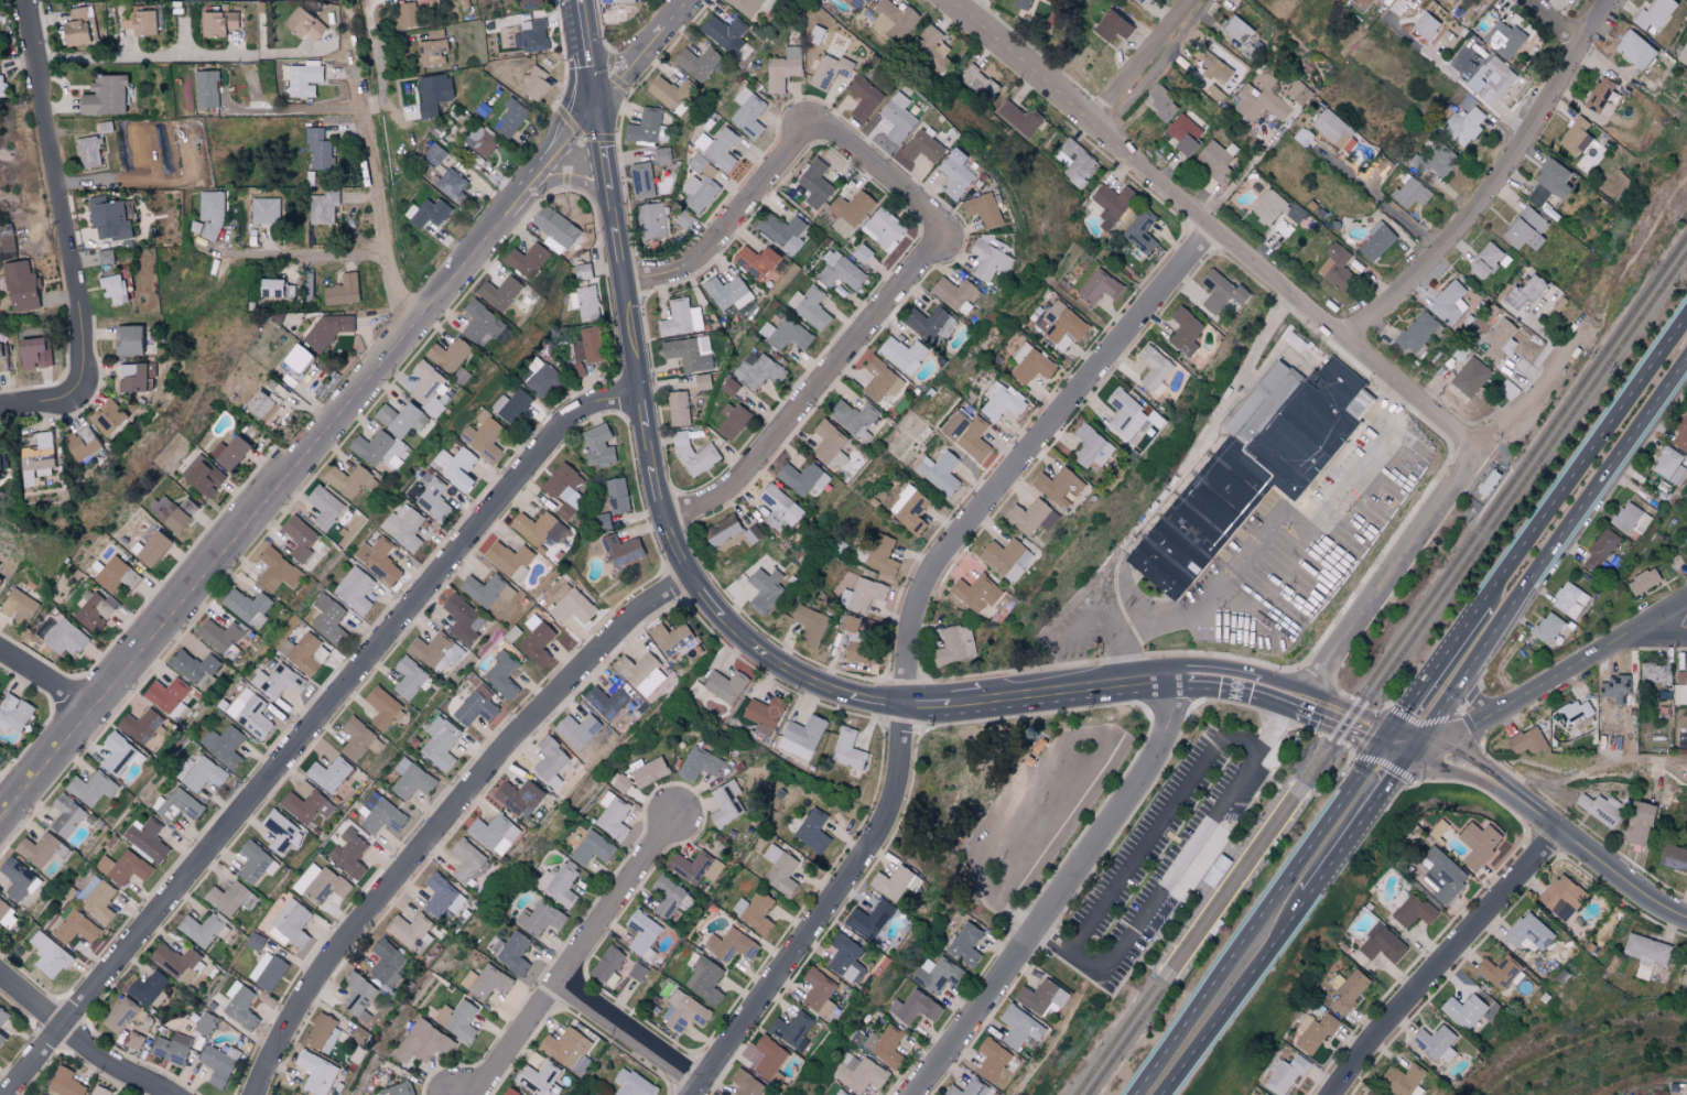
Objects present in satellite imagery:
building: (623, 1)
building: (1448, 1)
building: (527, 3)
building: (853, 3)
building: (1020, 3)
building: (1360, 3)
building: (748, 6)
building: (407, 13)
road: (982, 13)
building: (1654, 13)
building: (894, 20)
building: (139, 22)
building: (218, 23)
road: (1559, 23)
building: (302, 24)
building: (76, 25)
building: (1425, 25)
building: (1112, 26)
building: (1235, 29)
building: (724, 32)
building: (530, 35)
building: (1503, 40)
building: (1634, 50)
building: (932, 51)
building: (432, 52)
road: (590, 54)
road: (645, 54)
building: (1683, 55)
road: (148, 58)
building: (696, 63)
road: (1145, 63)
building: (1213, 66)
building: (782, 68)
building: (829, 71)
building: (303, 79)
building: (1492, 80)
building: (1, 82)
building: (978, 82)
building: (533, 84)
building: (206, 89)
building: (1297, 91)
building: (664, 93)
building: (432, 94)
building: (104, 95)
building: (1599, 95)
building: (863, 98)
building: (1161, 102)
building: (1258, 102)
road: (296, 110)
building: (748, 112)
building: (896, 117)
building: (510, 118)
building: (1019, 118)
building: (1463, 123)
building: (645, 126)
building: (1334, 131)
building: (1183, 133)
building: (1575, 137)
building: (480, 140)
building: (717, 147)
building: (921, 147)
building: (317, 149)
road: (605, 149)
building: (88, 152)
building: (434, 153)
building: (662, 155)
building: (1215, 159)
road: (868, 160)
building: (1435, 160)
building: (1074, 162)
building: (703, 166)
building: (956, 173)
building: (641, 180)
road: (1236, 180)
building: (1548, 183)
building: (451, 184)
building: (815, 184)
road: (1500, 184)
building: (699, 193)
building: (1410, 193)
road: (380, 198)
road: (63, 199)
road: (1381, 203)
building: (1111, 204)
building: (323, 207)
building: (1275, 207)
road: (616, 208)
building: (984, 209)
building: (266, 210)
building: (848, 212)
building: (429, 213)
building: (209, 216)
building: (108, 218)
building: (684, 219)
building: (652, 220)
road: (731, 220)
building: (554, 226)
road: (1211, 226)
building: (882, 227)
building: (1283, 228)
building: (1525, 229)
building: (782, 231)
building: (1140, 231)
building: (1375, 241)
building: (8, 242)
road: (1636, 252)
road: (311, 253)
building: (862, 253)
road: (624, 256)
building: (990, 257)
building: (527, 260)
building: (1485, 260)
building: (755, 261)
building: (1335, 267)
building: (582, 271)
building: (840, 271)
building: (21, 286)
building: (1099, 286)
building: (275, 288)
building: (112, 289)
building: (342, 291)
building: (1219, 291)
building: (499, 292)
building: (1523, 292)
building: (727, 293)
building: (585, 303)
building: (1449, 303)
building: (810, 306)
building: (681, 318)
building: (480, 322)
building: (929, 323)
building: (1061, 325)
building: (327, 329)
building: (1185, 332)
building: (1416, 332)
building: (786, 334)
road: (636, 338)
building: (127, 340)
building: (1499, 340)
building: (587, 346)
building: (689, 353)
building: (32, 355)
building: (447, 355)
building: (901, 355)
building: (3, 358)
building: (296, 359)
building: (1030, 364)
building: (1154, 369)
building: (577, 370)
building: (758, 371)
road: (824, 375)
building: (137, 377)
building: (541, 377)
building: (1470, 377)
building: (703, 381)
building: (880, 381)
building: (426, 388)
road: (1531, 390)
building: (1261, 398)
building: (999, 402)
road: (36, 404)
building: (261, 404)
building: (512, 405)
building: (678, 409)
road: (646, 410)
building: (383, 414)
building: (107, 416)
building: (1131, 416)
building: (853, 418)
building: (405, 420)
building: (731, 420)
building: (965, 434)
building: (484, 435)
building: (1680, 436)
building: (83, 443)
building: (597, 445)
building: (829, 445)
road: (652, 446)
building: (1091, 447)
building: (378, 448)
building: (227, 452)
building: (693, 454)
road: (1192, 457)
building: (39, 458)
road: (1585, 459)
building: (0, 463)
road: (296, 463)
building: (1668, 465)
building: (456, 466)
building: (939, 471)
building: (201, 476)
building: (802, 478)
building: (1248, 478)
building: (348, 480)
building: (1059, 486)
building: (564, 489)
building: (415, 491)
road: (661, 494)
building: (616, 495)
building: (434, 500)
building: (324, 507)
building: (779, 507)
building: (909, 509)
road: (1283, 510)
building: (170, 512)
building: (1027, 516)
building: (1625, 518)
building: (1050, 520)
building: (601, 522)
building: (403, 527)
building: (538, 529)
building: (721, 531)
building: (299, 538)
building: (1686, 540)
road: (1553, 545)
building: (151, 549)
building: (620, 550)
road: (675, 550)
building: (1599, 550)
building: (882, 555)
building: (507, 557)
building: (1008, 559)
building: (378, 560)
building: (275, 571)
road: (1392, 572)
building: (115, 575)
building: (0, 579)
building: (1642, 582)
building: (483, 589)
building: (765, 589)
building: (355, 590)
building: (862, 594)
building: (973, 594)
road: (709, 595)
building: (1569, 600)
building: (570, 605)
building: (19, 607)
building: (247, 607)
building: (91, 610)
building: (328, 619)
building: (463, 619)
building: (810, 625)
building: (1547, 628)
road: (1659, 630)
building: (218, 635)
road: (1085, 635)
building: (62, 637)
road: (908, 639)
building: (670, 640)
building: (536, 641)
building: (955, 644)
building: (304, 653)
building: (436, 653)
road: (1122, 653)
road: (1436, 662)
road: (781, 663)
railway: (1381, 664)
building: (192, 665)
road: (1199, 668)
building: (639, 673)
railway: (1386, 673)
building: (1655, 673)
building: (502, 674)
road: (1555, 674)
building: (408, 677)
road: (1146, 679)
road: (44, 681)
building: (278, 681)
road: (1178, 682)
building: (724, 685)
building: (1680, 686)
building: (1615, 690)
road: (1055, 691)
road: (1311, 694)
road: (1247, 695)
building: (167, 696)
road: (878, 700)
building: (606, 702)
road: (965, 704)
building: (381, 706)
road: (926, 706)
building: (475, 707)
building: (1575, 713)
building: (14, 714)
building: (251, 714)
building: (764, 714)
building: (140, 725)
road: (312, 725)
road: (1339, 725)
road: (1403, 725)
building: (576, 730)
road: (1381, 731)
building: (802, 737)
road: (1063, 737)
building: (356, 738)
building: (1526, 741)
building: (440, 744)
building: (225, 746)
building: (847, 749)
road: (1388, 749)
building: (117, 754)
road: (1470, 754)
building: (550, 761)
building: (699, 763)
building: (647, 771)
building: (201, 773)
building: (328, 773)
road: (1459, 773)
building: (411, 780)
building: (619, 782)
building: (90, 788)
road: (8, 793)
building: (519, 798)
building: (305, 803)
building: (725, 803)
building: (179, 805)
building: (1601, 809)
parking lot: (1043, 811)
road: (1365, 811)
road: (450, 814)
building: (613, 816)
building: (1639, 823)
building: (812, 831)
building: (281, 832)
building: (495, 833)
building: (148, 839)
building: (1478, 844)
building: (592, 848)
building: (36, 849)
parking lot: (1172, 849)
building: (349, 853)
road: (1597, 857)
building: (1673, 857)
building: (465, 861)
building: (255, 863)
building: (694, 867)
building: (123, 868)
building: (779, 870)
railway: (1225, 872)
building: (1441, 876)
building: (15, 878)
building: (559, 882)
building: (894, 883)
building: (324, 885)
railway: (1244, 888)
road: (1056, 893)
building: (439, 895)
building: (667, 897)
building: (1561, 897)
building: (97, 899)
building: (229, 899)
building: (754, 912)
building: (1413, 912)
building: (7, 915)
building: (539, 919)
road: (1250, 919)
building: (868, 920)
building: (292, 923)
building: (75, 928)
building: (408, 929)
building: (202, 930)
building: (1528, 932)
building: (642, 934)
road: (1052, 936)
building: (423, 943)
building: (965, 944)
building: (729, 945)
building: (1383, 945)
building: (510, 952)
building: (1645, 954)
building: (50, 955)
building: (846, 958)
road: (575, 960)
road: (1441, 960)
building: (177, 963)
building: (388, 963)
building: (606, 964)
road: (1095, 965)
building: (1497, 973)
building: (271, 974)
building: (937, 975)
building: (1685, 977)
building: (704, 980)
building: (485, 982)
building: (149, 989)
building: (1348, 989)
building: (818, 993)
road: (1236, 993)
building: (357, 996)
building: (1040, 997)
building: (238, 1008)
building: (913, 1008)
building: (1463, 1010)
building: (683, 1012)
building: (120, 1016)
building: (2, 1017)
building: (457, 1020)
building: (204, 1023)
building: (791, 1028)
building: (1017, 1028)
road: (634, 1029)
building: (1315, 1032)
building: (322, 1033)
building: (0, 1039)
road: (83, 1039)
building: (134, 1041)
building: (423, 1042)
building: (1435, 1043)
building: (884, 1045)
building: (171, 1048)
building: (567, 1049)
building: (768, 1058)
building: (991, 1060)
building: (216, 1065)
building: (316, 1072)
building: (1285, 1074)
building: (540, 1078)
building: (1403, 1081)
building: (66, 1083)
building: (746, 1083)
building: (632, 1084)
building: (967, 1088)
building: (397, 1089)
building: (100, 1091)
building: (509, 1092)
building: (840, 1092)
building: (1367, 1093)
building: (1265, 1094)

